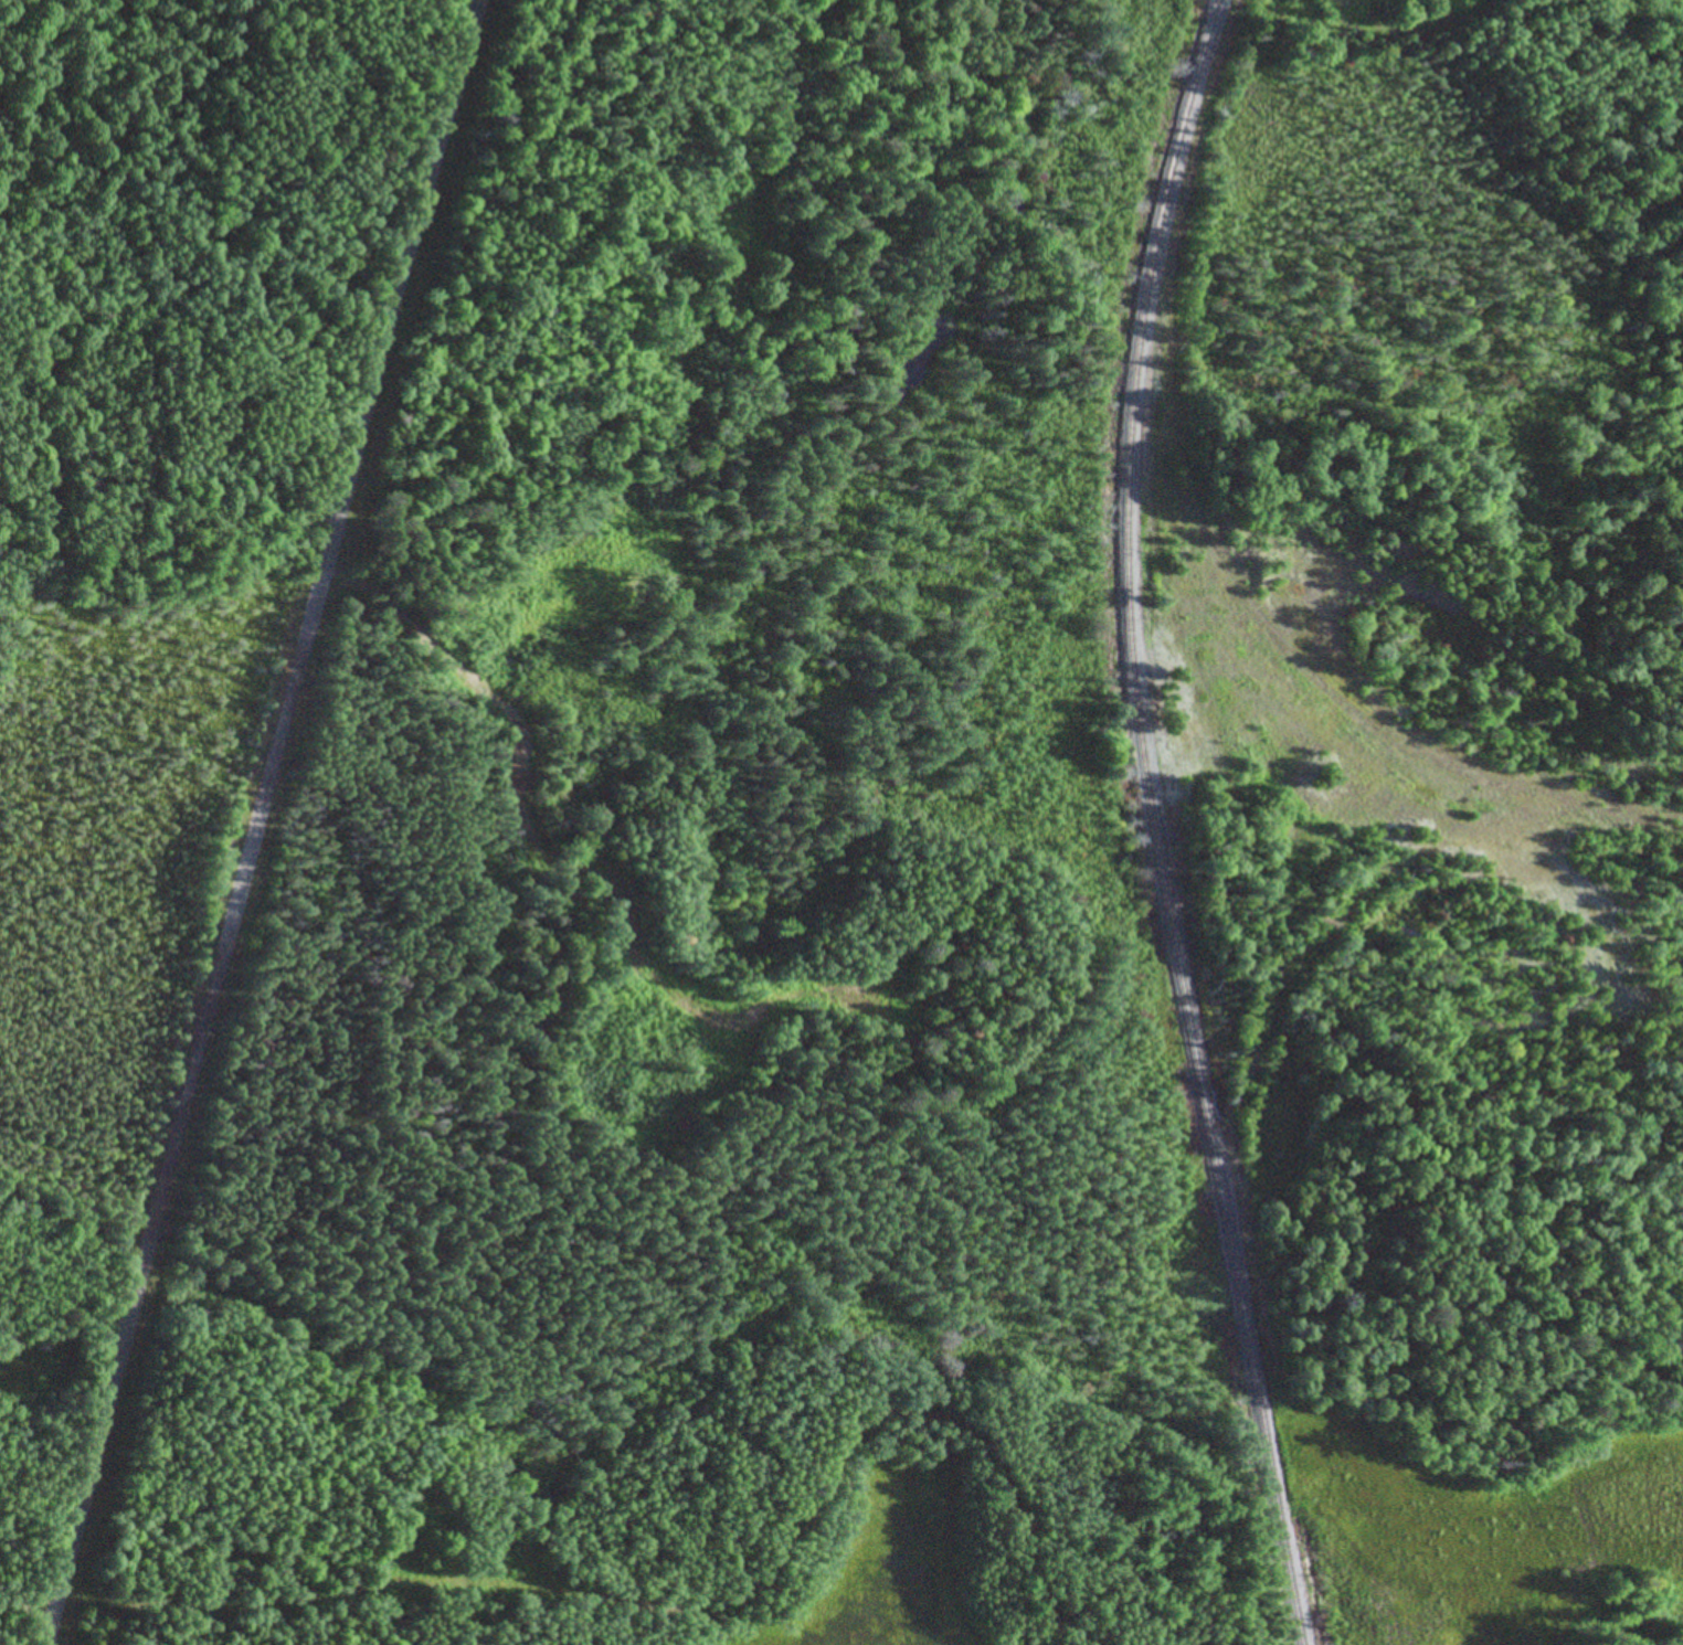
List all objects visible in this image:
road: (267, 822)
railway: (1155, 824)

